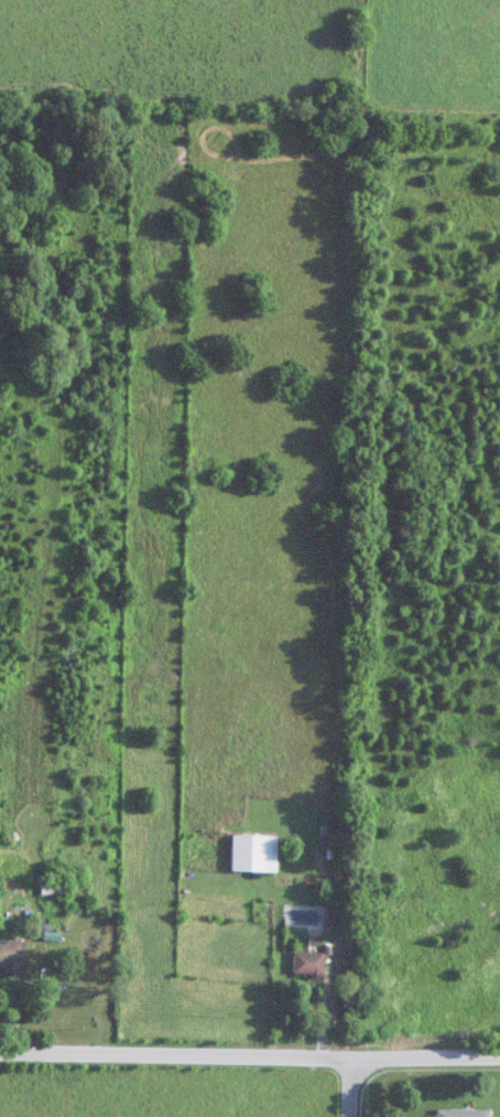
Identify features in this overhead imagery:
building: (251, 853)
building: (53, 887)
building: (10, 956)
building: (306, 964)
road: (249, 1055)
road: (347, 1087)
building: (460, 1113)

